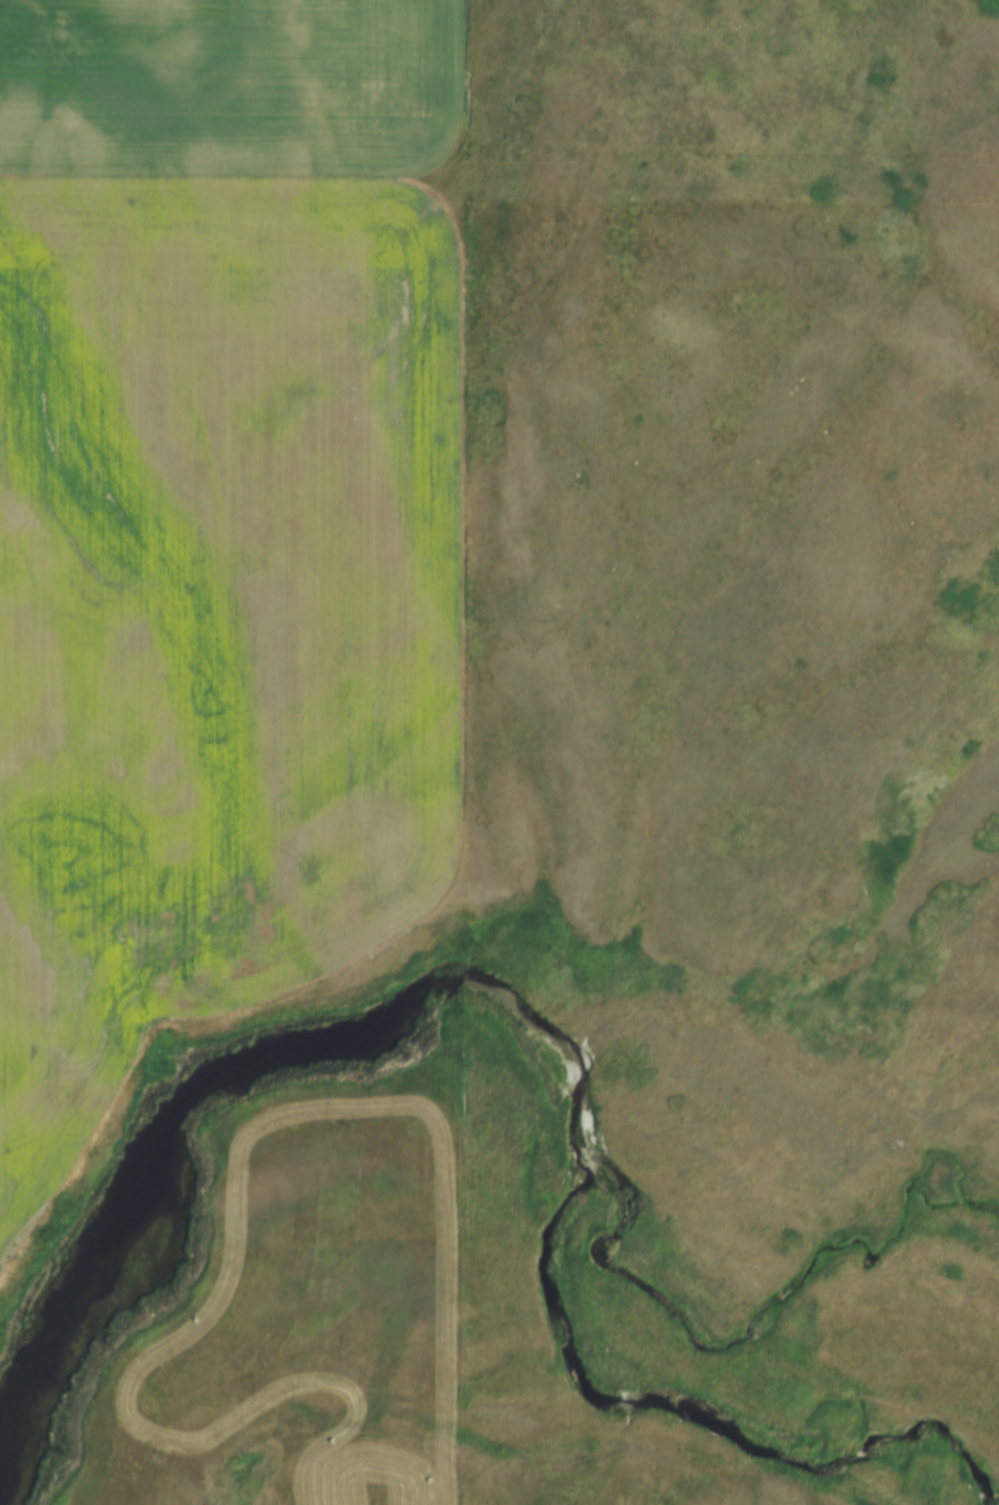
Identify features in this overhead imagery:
road: (233, 182)

